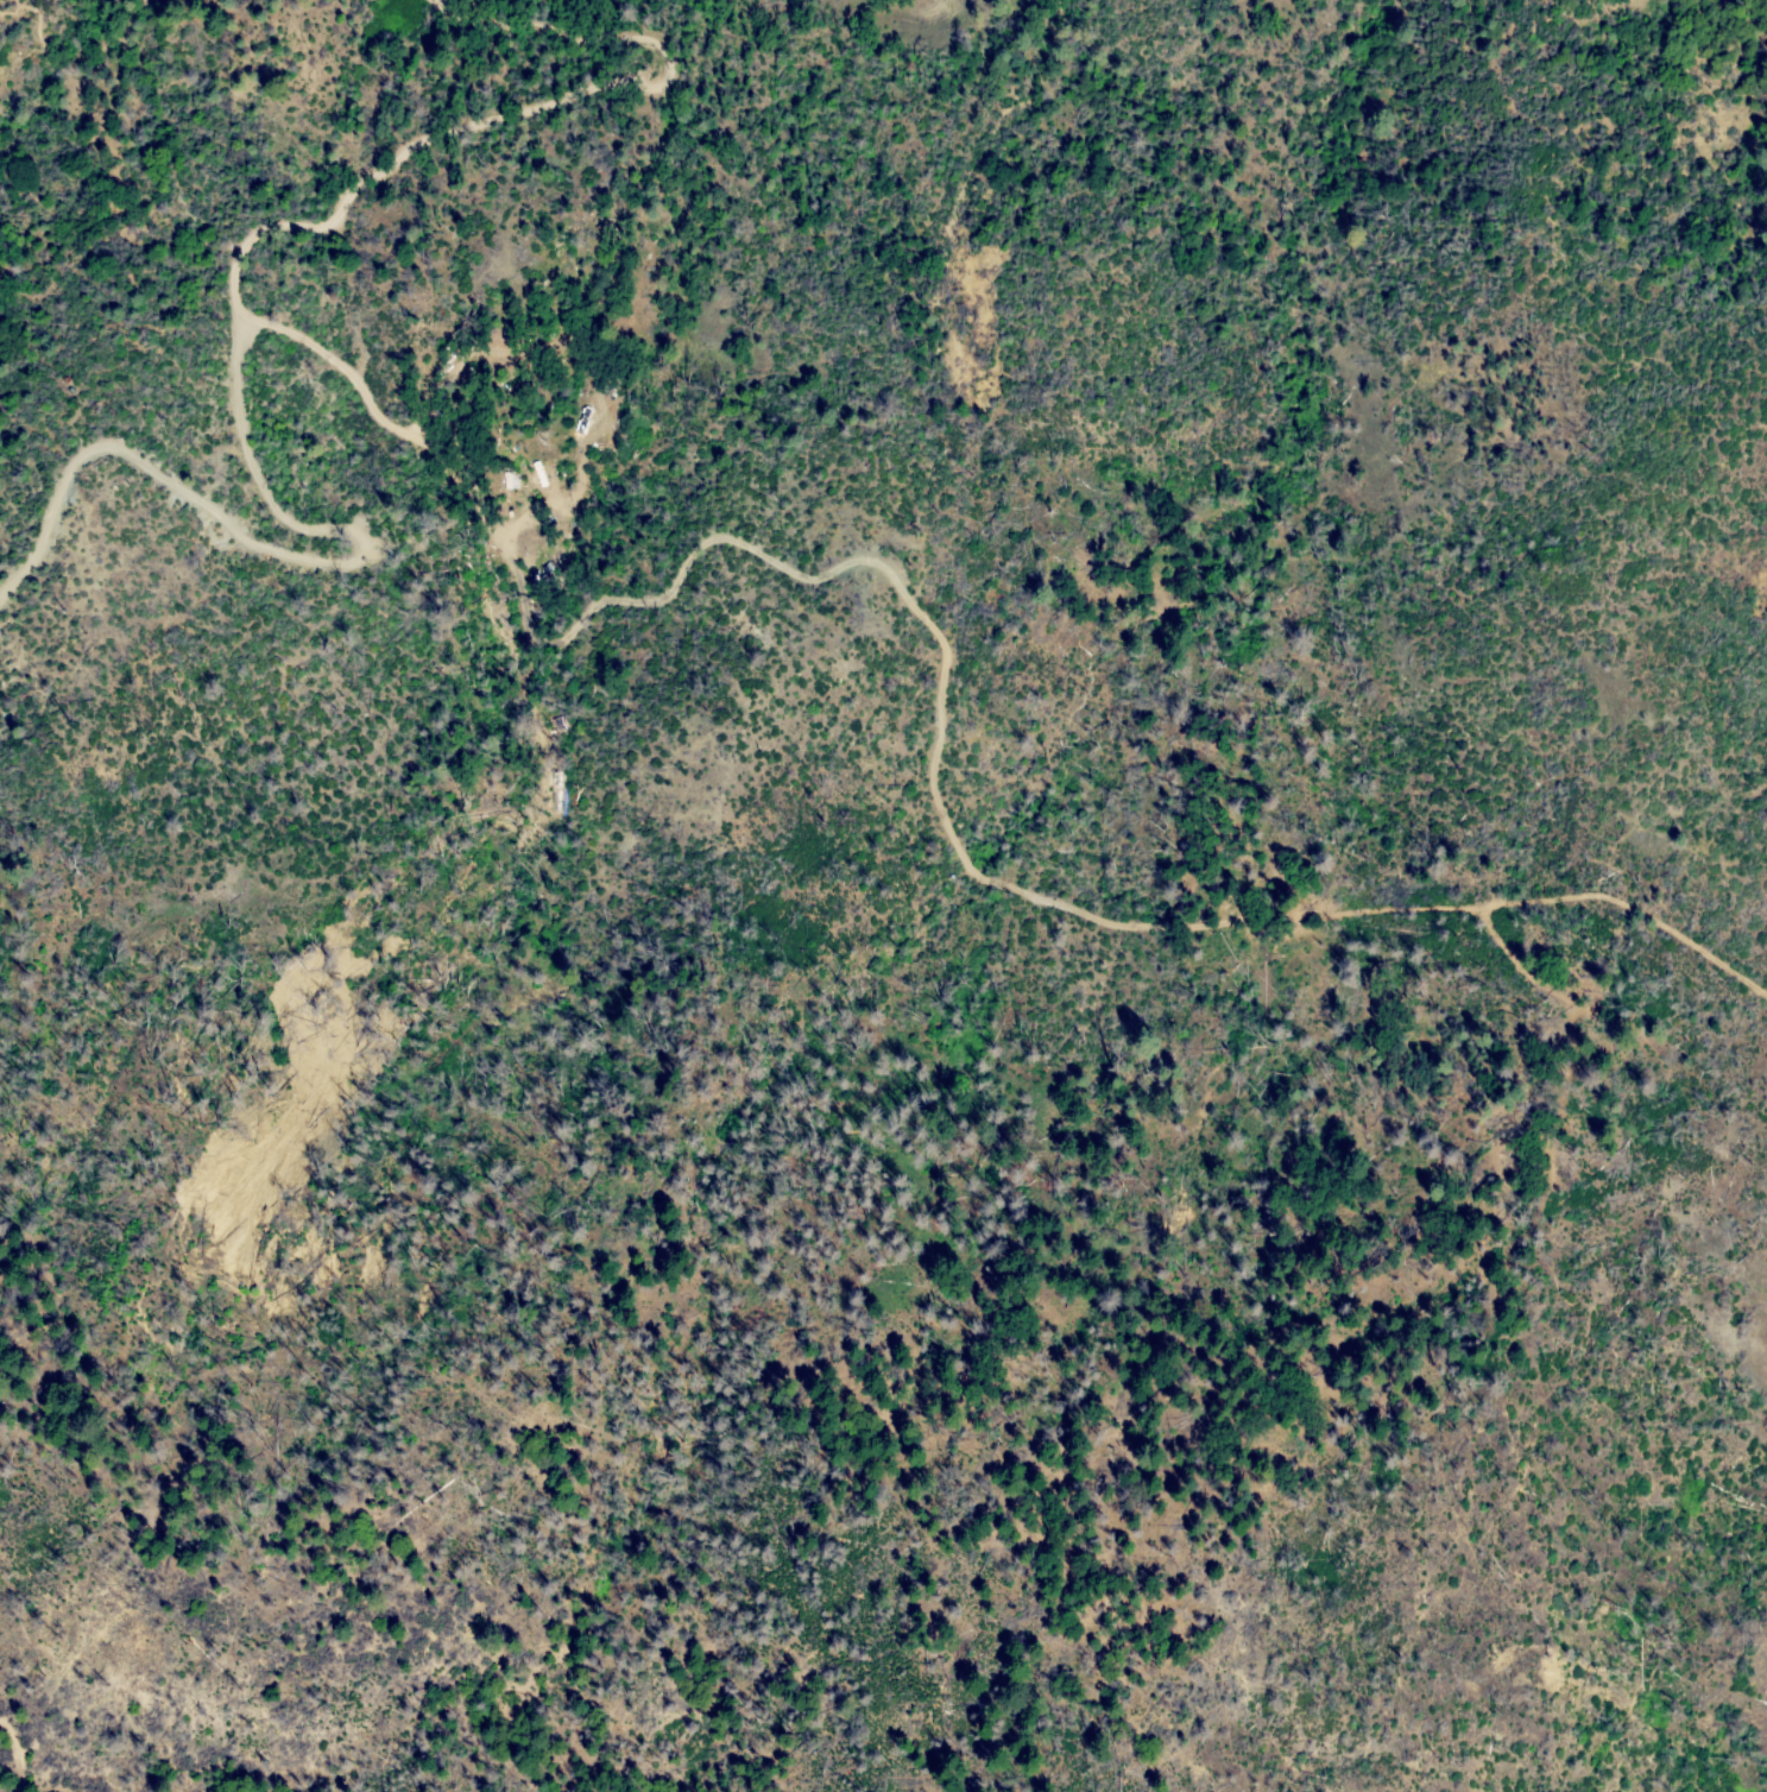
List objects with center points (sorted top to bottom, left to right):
road: (236, 336)
building: (583, 494)
building: (578, 513)
road: (555, 599)
road: (1247, 932)
road: (15, 1755)

